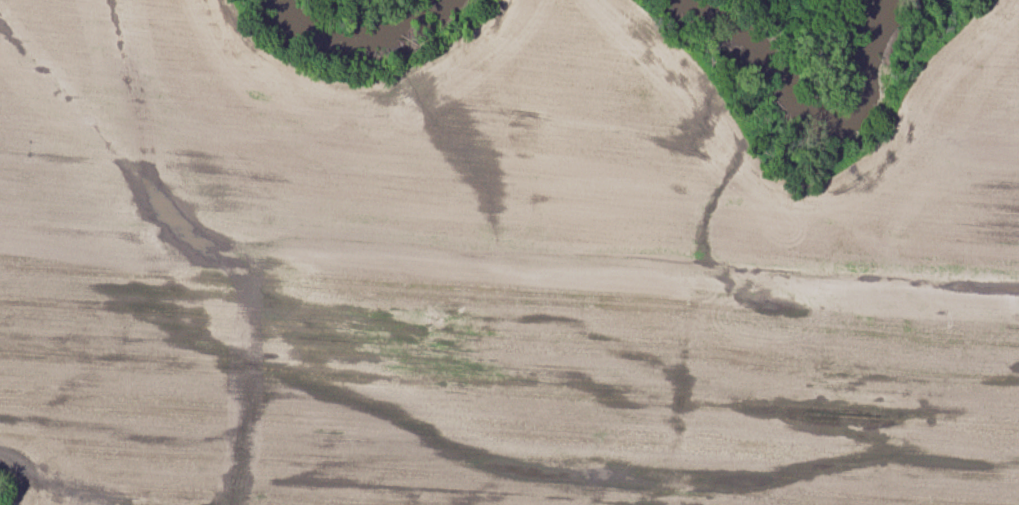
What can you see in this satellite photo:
river: (378, 19)
river: (803, 117)

